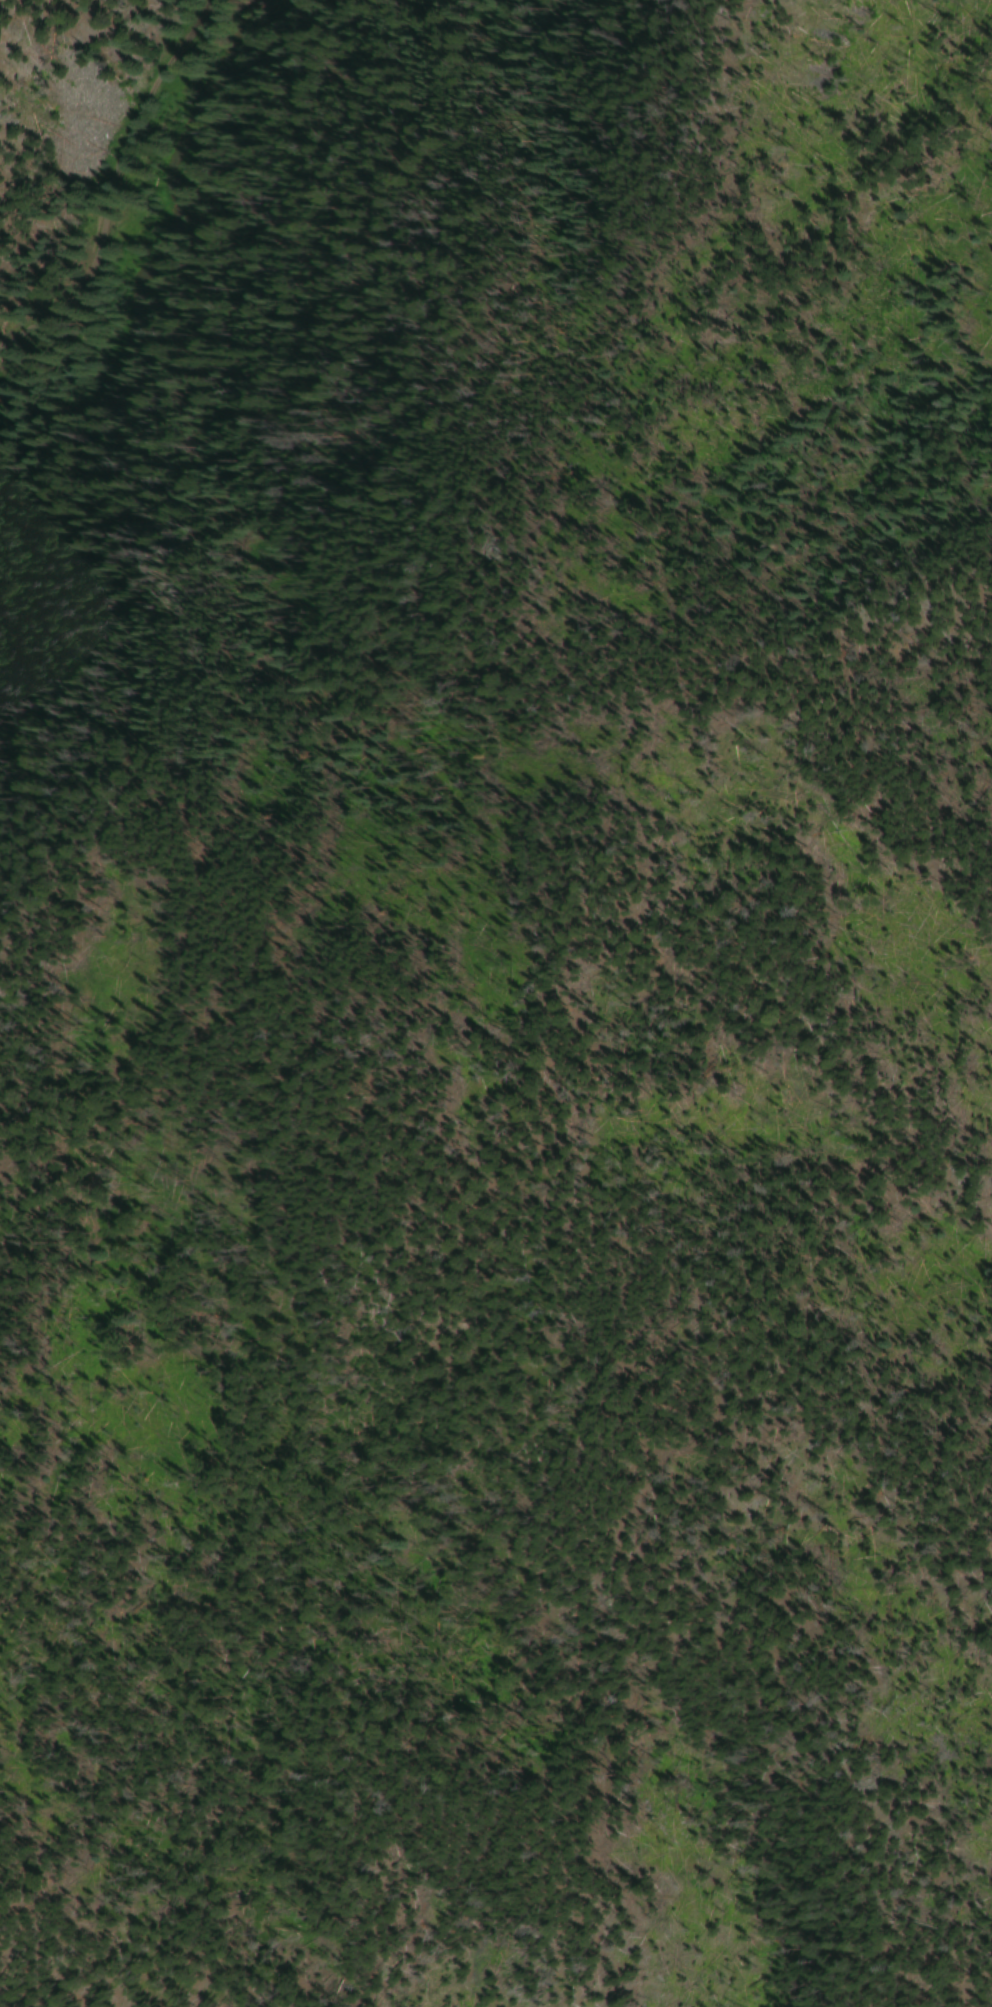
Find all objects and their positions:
road: (109, 181)
river: (155, 238)

